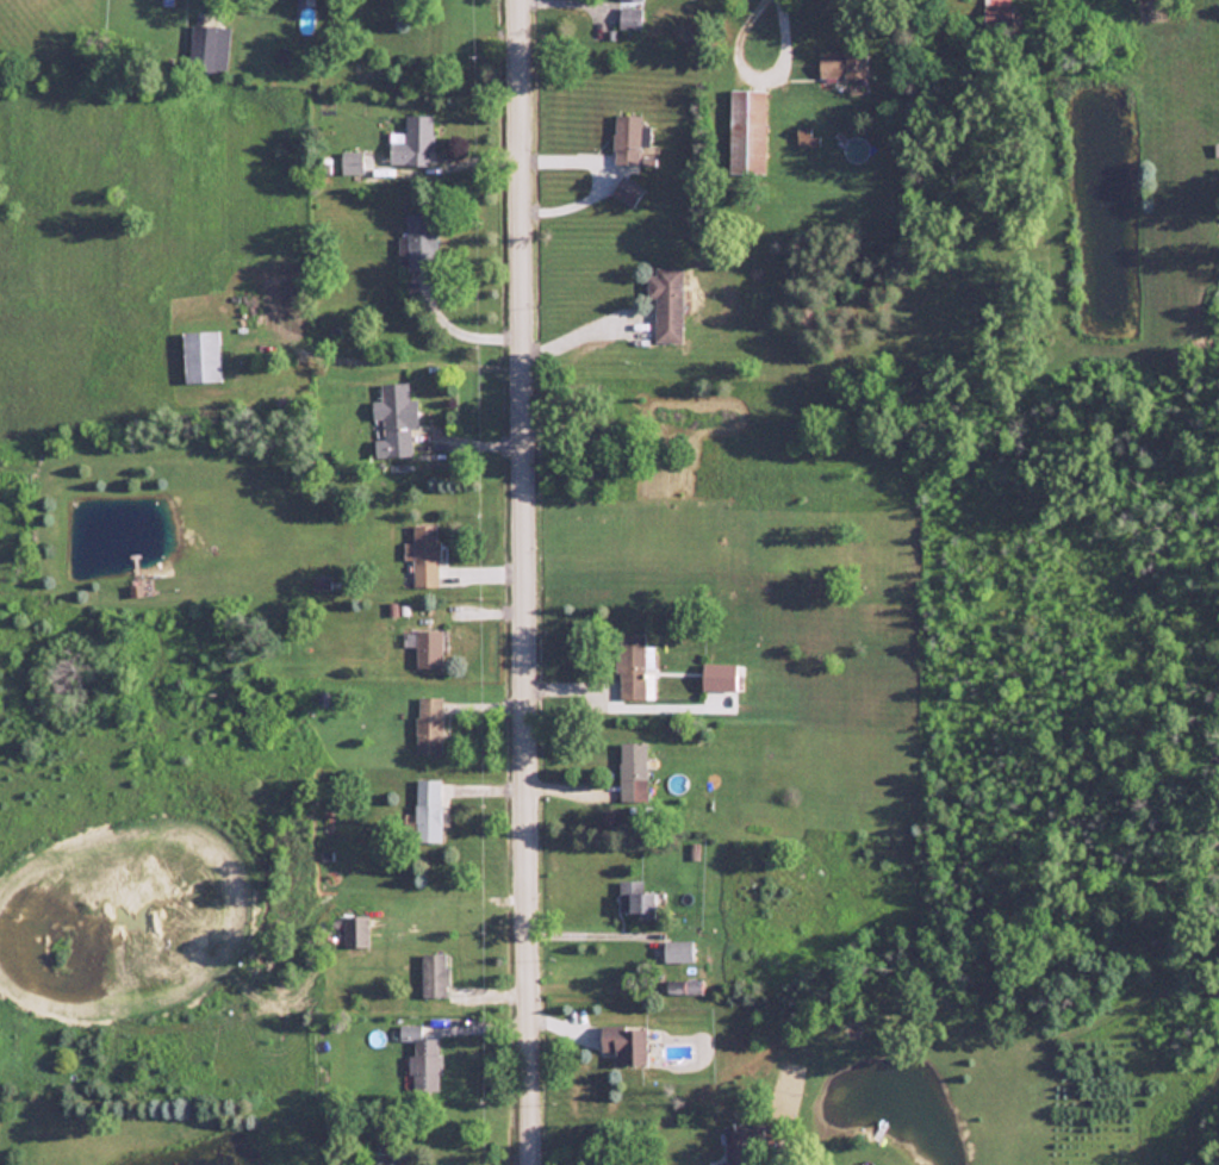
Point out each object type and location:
building: (996, 6)
building: (629, 15)
building: (204, 44)
building: (842, 64)
road: (753, 69)
building: (747, 130)
building: (628, 138)
building: (807, 138)
building: (412, 142)
building: (352, 162)
building: (628, 191)
building: (419, 242)
building: (666, 303)
road: (580, 325)
road: (452, 329)
building: (201, 356)
building: (394, 419)
building: (424, 554)
road: (525, 582)
building: (322, 584)
building: (136, 588)
building: (428, 648)
building: (633, 666)
building: (719, 674)
building: (429, 723)
building: (633, 771)
building: (428, 808)
road: (452, 895)
building: (639, 898)
building: (355, 928)
building: (678, 949)
building: (434, 972)
building: (626, 1042)
building: (424, 1061)
building: (738, 1144)
building: (390, 1152)

